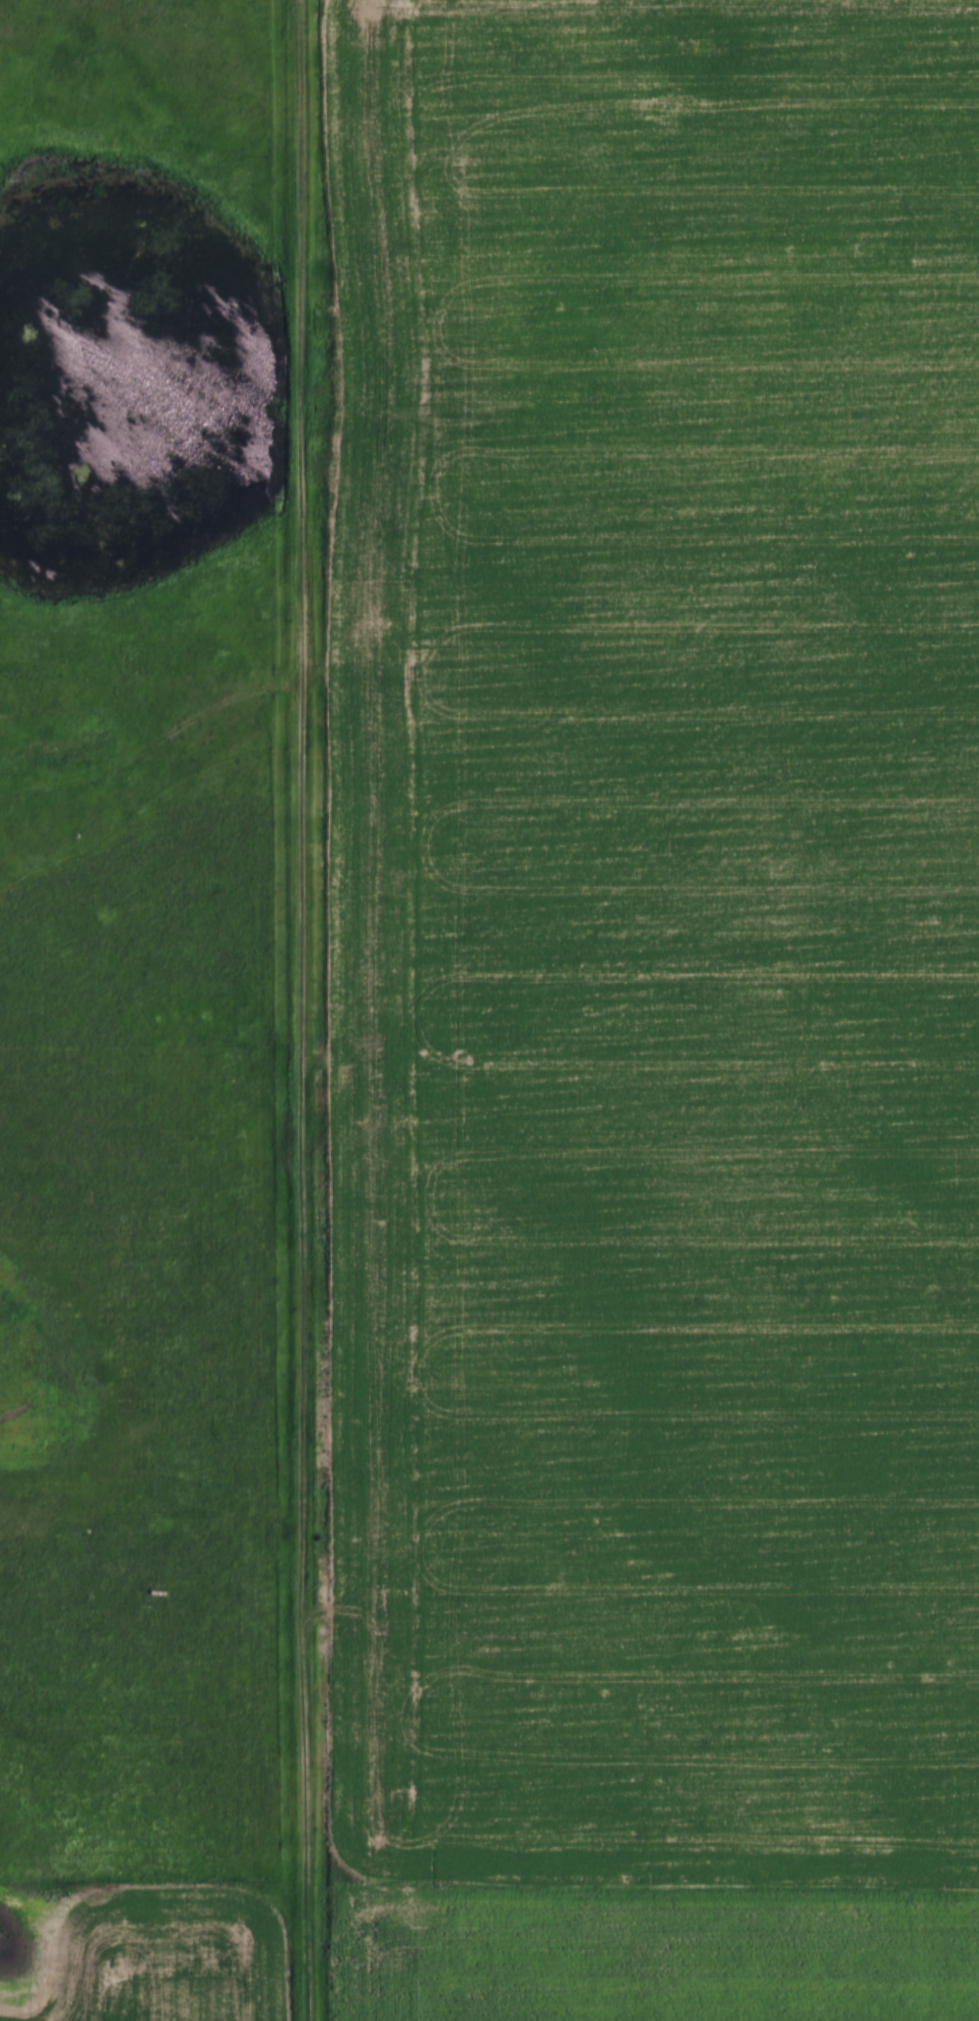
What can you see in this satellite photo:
road: (306, 1010)

